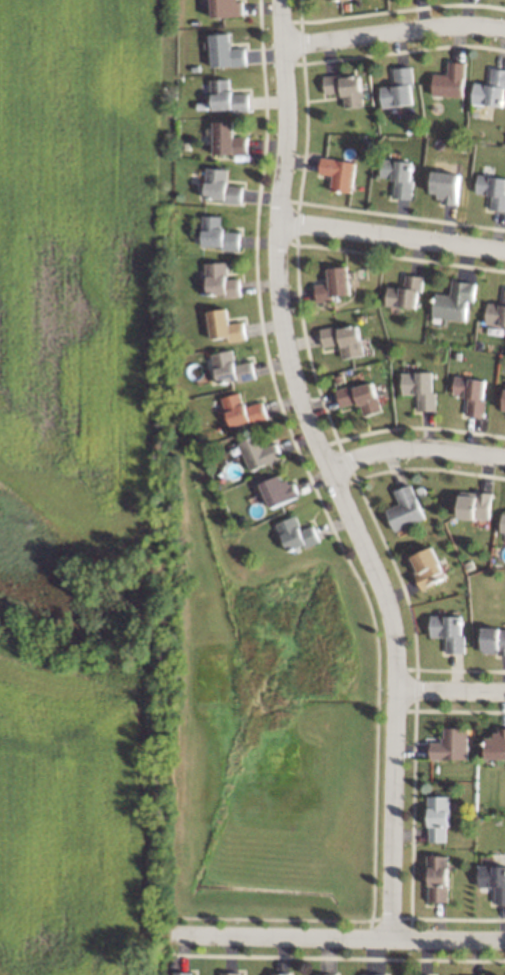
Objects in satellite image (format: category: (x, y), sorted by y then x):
building: (226, 8)
road: (394, 30)
building: (225, 51)
building: (450, 80)
building: (345, 88)
building: (399, 88)
building: (491, 89)
building: (226, 97)
building: (227, 139)
building: (339, 172)
building: (399, 176)
building: (220, 186)
building: (446, 186)
building: (492, 190)
building: (217, 234)
road: (392, 236)
building: (220, 280)
building: (334, 284)
building: (405, 292)
building: (454, 300)
building: (496, 313)
building: (224, 325)
building: (344, 339)
building: (231, 367)
building: (420, 387)
building: (471, 393)
building: (360, 397)
building: (504, 404)
building: (242, 410)
road: (417, 448)
building: (259, 452)
road: (332, 470)
building: (279, 490)
building: (474, 504)
building: (405, 508)
building: (502, 522)
building: (296, 534)
building: (427, 566)
building: (448, 631)
building: (493, 640)
road: (451, 692)
building: (451, 744)
building: (496, 744)
building: (438, 818)
building: (438, 878)
building: (493, 880)
road: (340, 939)
building: (183, 973)
building: (231, 973)
building: (326, 974)
building: (374, 974)

